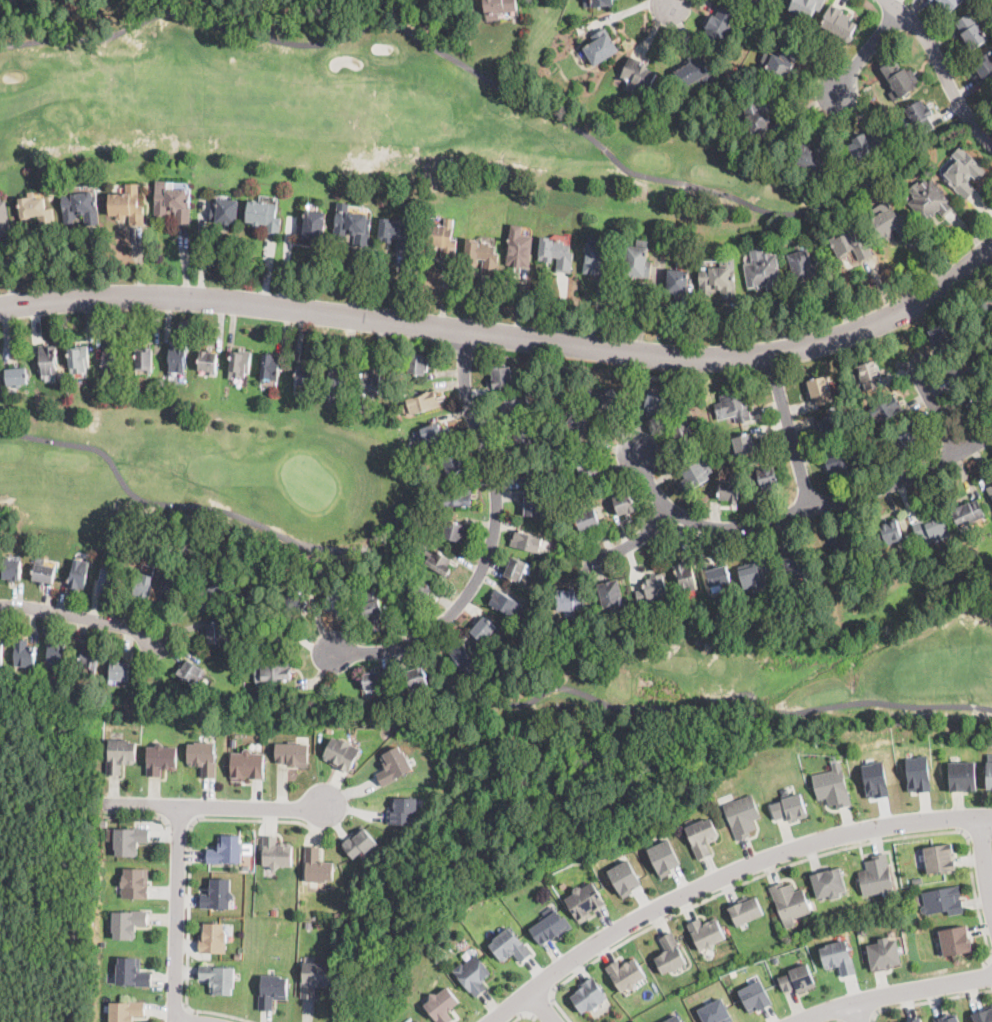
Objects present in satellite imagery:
building: (754, 0)
building: (766, 0)
building: (769, 0)
building: (933, 0)
building: (601, 2)
road: (673, 2)
road: (895, 4)
building: (948, 4)
building: (496, 7)
building: (806, 7)
building: (838, 22)
building: (719, 25)
building: (972, 30)
building: (600, 47)
road: (869, 52)
building: (779, 61)
building: (692, 69)
building: (983, 69)
building: (637, 74)
road: (946, 76)
building: (899, 79)
road: (510, 88)
park: (364, 115)
building: (919, 116)
building: (762, 117)
park: (979, 125)
building: (865, 144)
building: (809, 158)
building: (963, 172)
building: (929, 199)
building: (173, 203)
building: (126, 207)
building: (81, 208)
building: (37, 211)
building: (224, 211)
building: (264, 216)
building: (4, 220)
building: (888, 222)
building: (311, 225)
building: (351, 225)
building: (396, 233)
building: (440, 237)
building: (850, 245)
building: (518, 248)
building: (481, 253)
building: (556, 253)
building: (596, 256)
building: (637, 260)
building: (803, 265)
building: (763, 273)
building: (676, 280)
building: (717, 281)
building: (983, 311)
road: (506, 336)
building: (942, 336)
building: (177, 356)
building: (142, 358)
building: (78, 359)
building: (49, 360)
building: (110, 360)
building: (207, 362)
building: (238, 363)
building: (418, 363)
building: (269, 367)
building: (595, 370)
building: (957, 370)
building: (869, 374)
building: (17, 375)
building: (303, 375)
building: (502, 377)
building: (336, 379)
building: (268, 381)
building: (369, 381)
building: (819, 389)
building: (650, 400)
building: (420, 402)
building: (606, 402)
building: (978, 404)
building: (735, 405)
building: (514, 406)
road: (937, 408)
building: (896, 409)
building: (575, 425)
building: (828, 427)
road: (790, 431)
building: (682, 433)
building: (429, 434)
building: (522, 437)
building: (902, 440)
building: (744, 444)
building: (452, 461)
building: (838, 462)
building: (588, 469)
building: (530, 470)
building: (693, 471)
park: (191, 475)
building: (763, 478)
building: (729, 490)
building: (989, 491)
building: (453, 497)
building: (623, 503)
building: (534, 505)
road: (802, 511)
building: (968, 514)
building: (587, 520)
building: (931, 528)
building: (454, 531)
building: (886, 531)
road: (494, 540)
building: (526, 541)
road: (636, 544)
building: (848, 548)
building: (437, 560)
building: (793, 562)
building: (518, 568)
building: (12, 569)
building: (44, 571)
building: (754, 573)
building: (79, 574)
building: (685, 575)
building: (718, 577)
building: (107, 581)
building: (173, 587)
building: (141, 588)
building: (417, 588)
building: (651, 588)
building: (211, 594)
building: (611, 595)
building: (335, 599)
building: (294, 600)
building: (570, 600)
building: (504, 602)
building: (371, 608)
road: (80, 616)
building: (483, 628)
building: (216, 632)
building: (274, 638)
building: (1, 654)
building: (462, 654)
building: (25, 655)
building: (57, 655)
building: (95, 656)
park: (766, 667)
building: (119, 670)
building: (275, 670)
building: (188, 671)
building: (417, 677)
building: (374, 680)
road: (451, 682)
building: (169, 703)
building: (233, 742)
building: (293, 752)
building: (342, 753)
building: (203, 757)
building: (121, 759)
building: (161, 759)
building: (248, 764)
building: (395, 764)
building: (989, 771)
building: (918, 772)
building: (962, 775)
building: (875, 777)
building: (832, 784)
building: (790, 806)
road: (216, 807)
building: (368, 807)
building: (403, 810)
building: (743, 814)
road: (151, 817)
building: (103, 822)
road: (181, 825)
building: (703, 835)
road: (979, 837)
building: (130, 840)
building: (360, 841)
building: (226, 850)
building: (277, 851)
building: (664, 856)
building: (940, 857)
road: (985, 858)
road: (792, 864)
building: (317, 865)
building: (246, 866)
building: (875, 874)
building: (626, 876)
road: (724, 876)
road: (190, 880)
building: (828, 881)
building: (135, 882)
building: (218, 893)
building: (585, 899)
building: (942, 899)
building: (790, 901)
building: (745, 908)
building: (274, 911)
road: (178, 914)
building: (339, 914)
building: (127, 920)
building: (308, 923)
building: (550, 924)
building: (864, 930)
building: (707, 932)
building: (213, 937)
building: (955, 939)
building: (509, 944)
building: (671, 953)
building: (884, 953)
building: (238, 954)
building: (839, 956)
building: (776, 959)
road: (989, 969)
building: (132, 971)
building: (472, 973)
building: (626, 973)
building: (218, 976)
building: (314, 977)
building: (798, 978)
building: (272, 989)
building: (588, 994)
building: (755, 995)
road: (898, 995)
road: (928, 1001)
building: (442, 1004)
road: (542, 1004)
road: (542, 1006)
building: (126, 1011)
building: (716, 1012)
road: (858, 1014)
building: (983, 1015)
road: (524, 1016)
building: (945, 1017)
building: (673, 1019)
building: (915, 1019)
building: (416, 1021)
road: (871, 1021)
building: (903, 1021)

